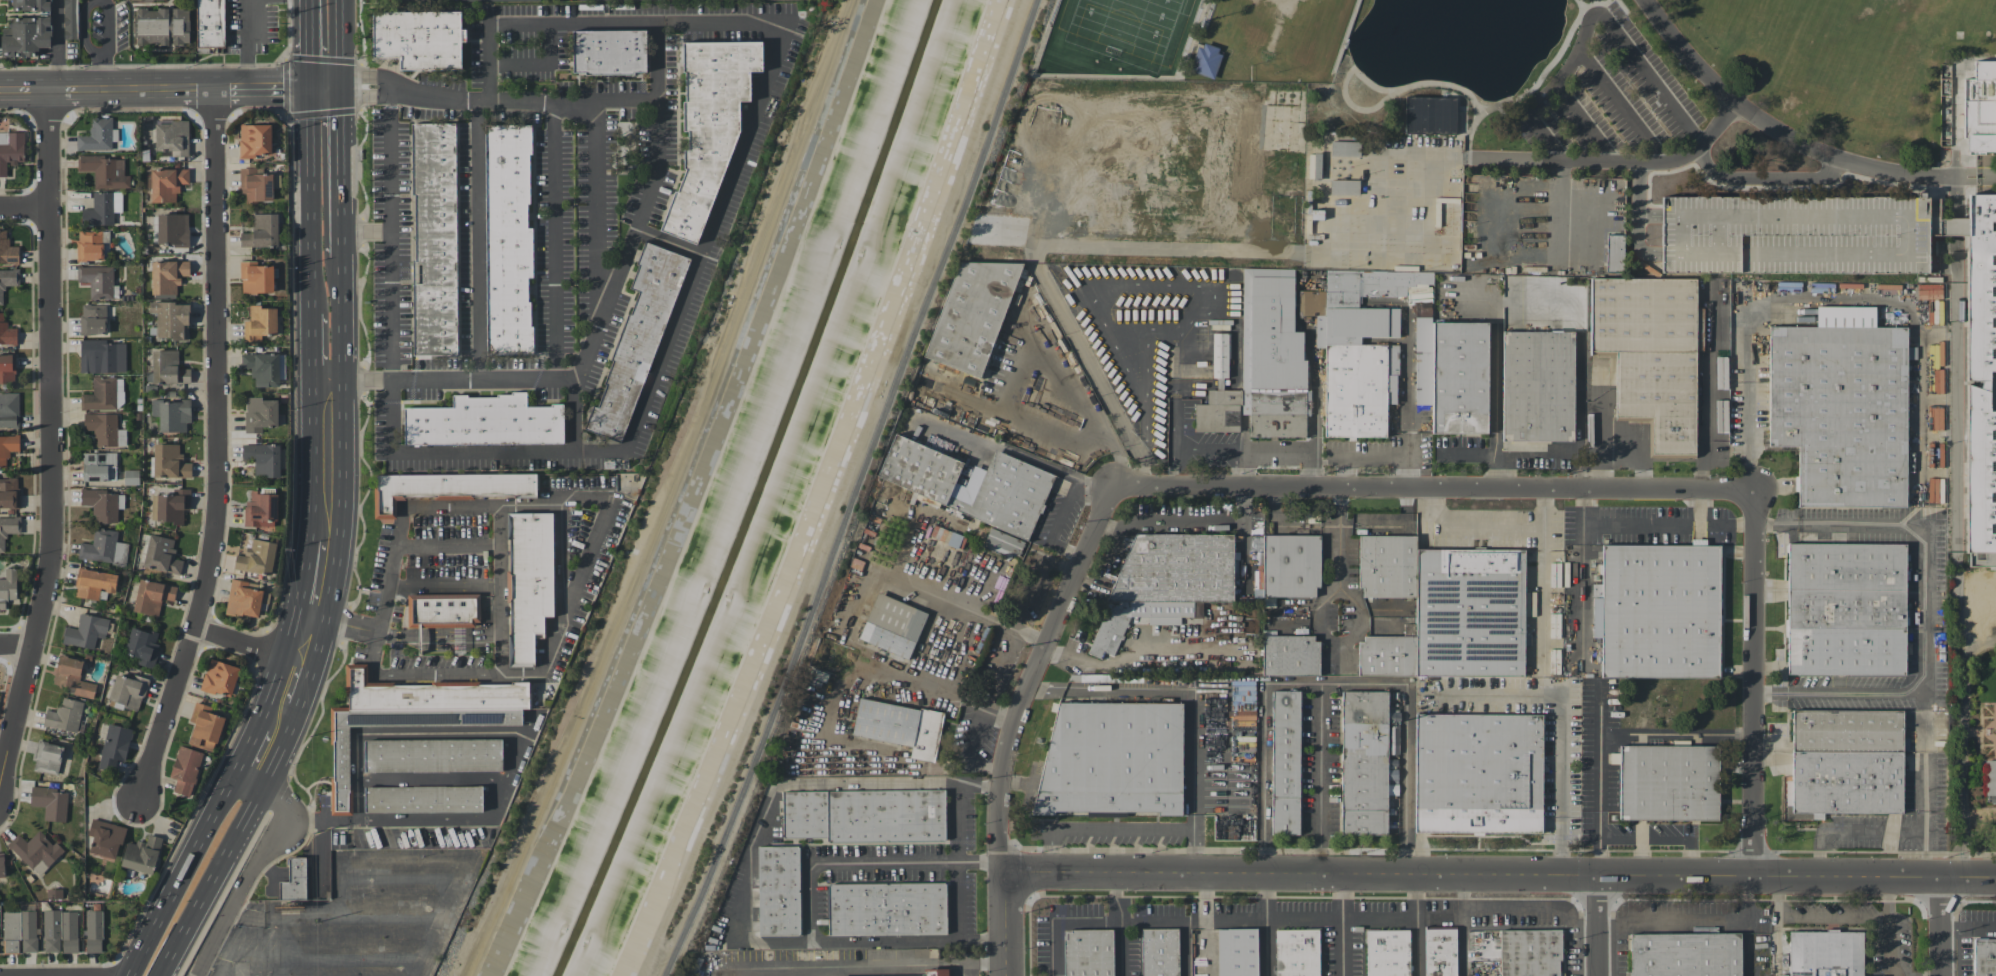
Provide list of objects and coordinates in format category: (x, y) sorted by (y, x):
building: (153, 0)
road: (1581, 3)
building: (31, 5)
road: (1622, 6)
park: (1733, 14)
road: (1595, 15)
building: (69, 19)
road: (571, 22)
building: (210, 23)
building: (162, 26)
park: (1129, 30)
park: (1285, 32)
building: (26, 36)
building: (418, 37)
road: (1346, 37)
road: (246, 44)
road: (310, 44)
road: (340, 44)
road: (56, 45)
road: (101, 45)
building: (608, 51)
building: (1207, 61)
road: (1109, 76)
road: (1535, 84)
traffic signals: (311, 89)
road: (326, 89)
traffic signals: (341, 89)
road: (155, 90)
road: (1380, 102)
road: (1624, 105)
building: (1980, 107)
building: (1430, 115)
road: (1587, 123)
building: (708, 126)
park: (1453, 127)
building: (97, 135)
road: (1786, 136)
building: (172, 137)
building: (254, 140)
building: (1344, 148)
building: (11, 149)
road: (1618, 162)
building: (104, 171)
road: (341, 172)
road: (1769, 179)
road: (1985, 179)
building: (167, 184)
building: (255, 185)
building: (1344, 187)
road: (313, 197)
road: (647, 201)
road: (593, 204)
building: (102, 208)
road: (1561, 208)
road: (25, 210)
road: (1650, 216)
road: (1639, 217)
building: (172, 230)
building: (261, 231)
building: (1794, 234)
parking garage: (1794, 234)
road: (390, 236)
building: (434, 238)
building: (507, 238)
road: (471, 239)
road: (668, 240)
road: (555, 243)
building: (92, 245)
building: (7, 250)
building: (1614, 253)
building: (167, 276)
building: (256, 277)
building: (8, 280)
building: (97, 280)
road: (1172, 287)
building: (1718, 292)
road: (1834, 307)
building: (972, 316)
building: (93, 319)
building: (171, 319)
building: (260, 322)
road: (673, 323)
building: (1699, 328)
building: (7, 332)
road: (1141, 340)
building: (1718, 341)
road: (315, 342)
building: (636, 342)
road: (1025, 353)
building: (1651, 353)
building: (102, 356)
building: (167, 367)
building: (7, 368)
building: (262, 368)
building: (1980, 374)
building: (1460, 378)
road: (330, 379)
road: (1405, 384)
building: (1538, 386)
building: (1356, 391)
building: (119, 393)
building: (100, 394)
building: (9, 409)
building: (1219, 412)
building: (1842, 412)
building: (1277, 413)
building: (171, 414)
building: (260, 414)
road: (578, 416)
building: (483, 421)
building: (105, 429)
road: (1706, 434)
road: (50, 436)
building: (7, 448)
road: (215, 450)
road: (1370, 456)
building: (263, 459)
road: (315, 459)
building: (170, 462)
road: (1045, 465)
building: (99, 466)
road: (1095, 482)
building: (1014, 486)
building: (447, 487)
road: (1433, 488)
road: (654, 489)
road: (859, 490)
building: (9, 492)
river: (756, 494)
road: (1698, 503)
building: (101, 504)
road: (486, 505)
building: (170, 506)
road: (1064, 508)
building: (260, 509)
road: (1276, 519)
road: (1197, 520)
road: (1655, 520)
road: (1470, 523)
road: (1399, 525)
building: (8, 529)
road: (596, 529)
road: (1338, 537)
road: (447, 545)
building: (1005, 545)
road: (1065, 550)
building: (161, 555)
building: (256, 557)
road: (1108, 558)
building: (1291, 565)
building: (1387, 566)
building: (1846, 566)
road: (890, 575)
road: (306, 576)
road: (1542, 576)
building: (528, 582)
building: (93, 583)
building: (1166, 583)
road: (444, 584)
building: (7, 587)
road: (499, 589)
building: (152, 596)
building: (244, 598)
road: (1955, 607)
building: (1846, 609)
building: (442, 610)
road: (1924, 610)
building: (1660, 611)
building: (1470, 612)
road: (313, 615)
road: (355, 624)
building: (893, 625)
building: (85, 631)
road: (323, 633)
road: (240, 643)
road: (15, 644)
building: (142, 646)
road: (1004, 650)
building: (1846, 651)
building: (1291, 655)
building: (1387, 656)
road: (280, 670)
road: (457, 673)
road: (917, 673)
road: (896, 675)
road: (1031, 675)
building: (72, 677)
building: (219, 678)
road: (1754, 682)
road: (1361, 684)
road: (289, 690)
building: (128, 691)
road: (1193, 699)
road: (1995, 709)
road: (1988, 710)
building: (64, 715)
road: (1560, 723)
road: (1980, 724)
road: (1995, 724)
building: (900, 726)
building: (204, 727)
building: (1848, 731)
road: (1974, 731)
fountain: (1995, 731)
road: (436, 732)
road: (976, 732)
road: (1626, 732)
road: (1990, 732)
road: (1995, 737)
road: (1988, 744)
building: (114, 746)
road: (1032, 747)
road: (1959, 747)
road: (1262, 750)
road: (1988, 750)
road: (249, 751)
building: (432, 755)
road: (1923, 755)
building: (47, 757)
building: (1114, 759)
building: (1287, 762)
road: (1976, 762)
building: (1365, 763)
building: (340, 769)
building: (185, 770)
building: (1478, 773)
road: (434, 775)
building: (1990, 777)
building: (1669, 782)
building: (1847, 782)
building: (423, 799)
building: (50, 802)
building: (865, 815)
road: (390, 818)
road: (1023, 820)
road: (1121, 827)
road: (1872, 831)
road: (1658, 838)
building: (105, 839)
road: (1049, 850)
building: (35, 851)
road: (409, 853)
building: (141, 854)
road: (1597, 855)
road: (1641, 856)
road: (865, 862)
road: (256, 865)
building: (1, 866)
road: (184, 875)
road: (1500, 875)
road: (403, 877)
road: (749, 878)
building: (293, 879)
building: (778, 891)
road: (1776, 895)
building: (887, 909)
road: (255, 914)
road: (1849, 915)
road: (395, 916)
road: (1336, 917)
road: (1059, 922)
road: (1693, 922)
road: (1005, 925)
road: (1205, 925)
road: (1265, 925)
road: (1341, 925)
road: (1417, 925)
road: (1462, 925)
road: (1597, 925)
road: (1941, 926)
road: (1969, 927)
building: (19, 931)
building: (60, 931)
building: (93, 931)
road: (981, 940)
road: (1777, 945)
road: (1886, 945)
road: (279, 946)
road: (1182, 947)
road: (1120, 949)
building: (1089, 952)
building: (1160, 952)
building: (1237, 952)
building: (1297, 952)
building: (1440, 952)
building: (1530, 952)
building: (1388, 953)
building: (1685, 954)
building: (1826, 954)
building: (1985, 957)
road: (353, 960)
road: (970, 965)
road: (838, 966)
building: (935, 972)

